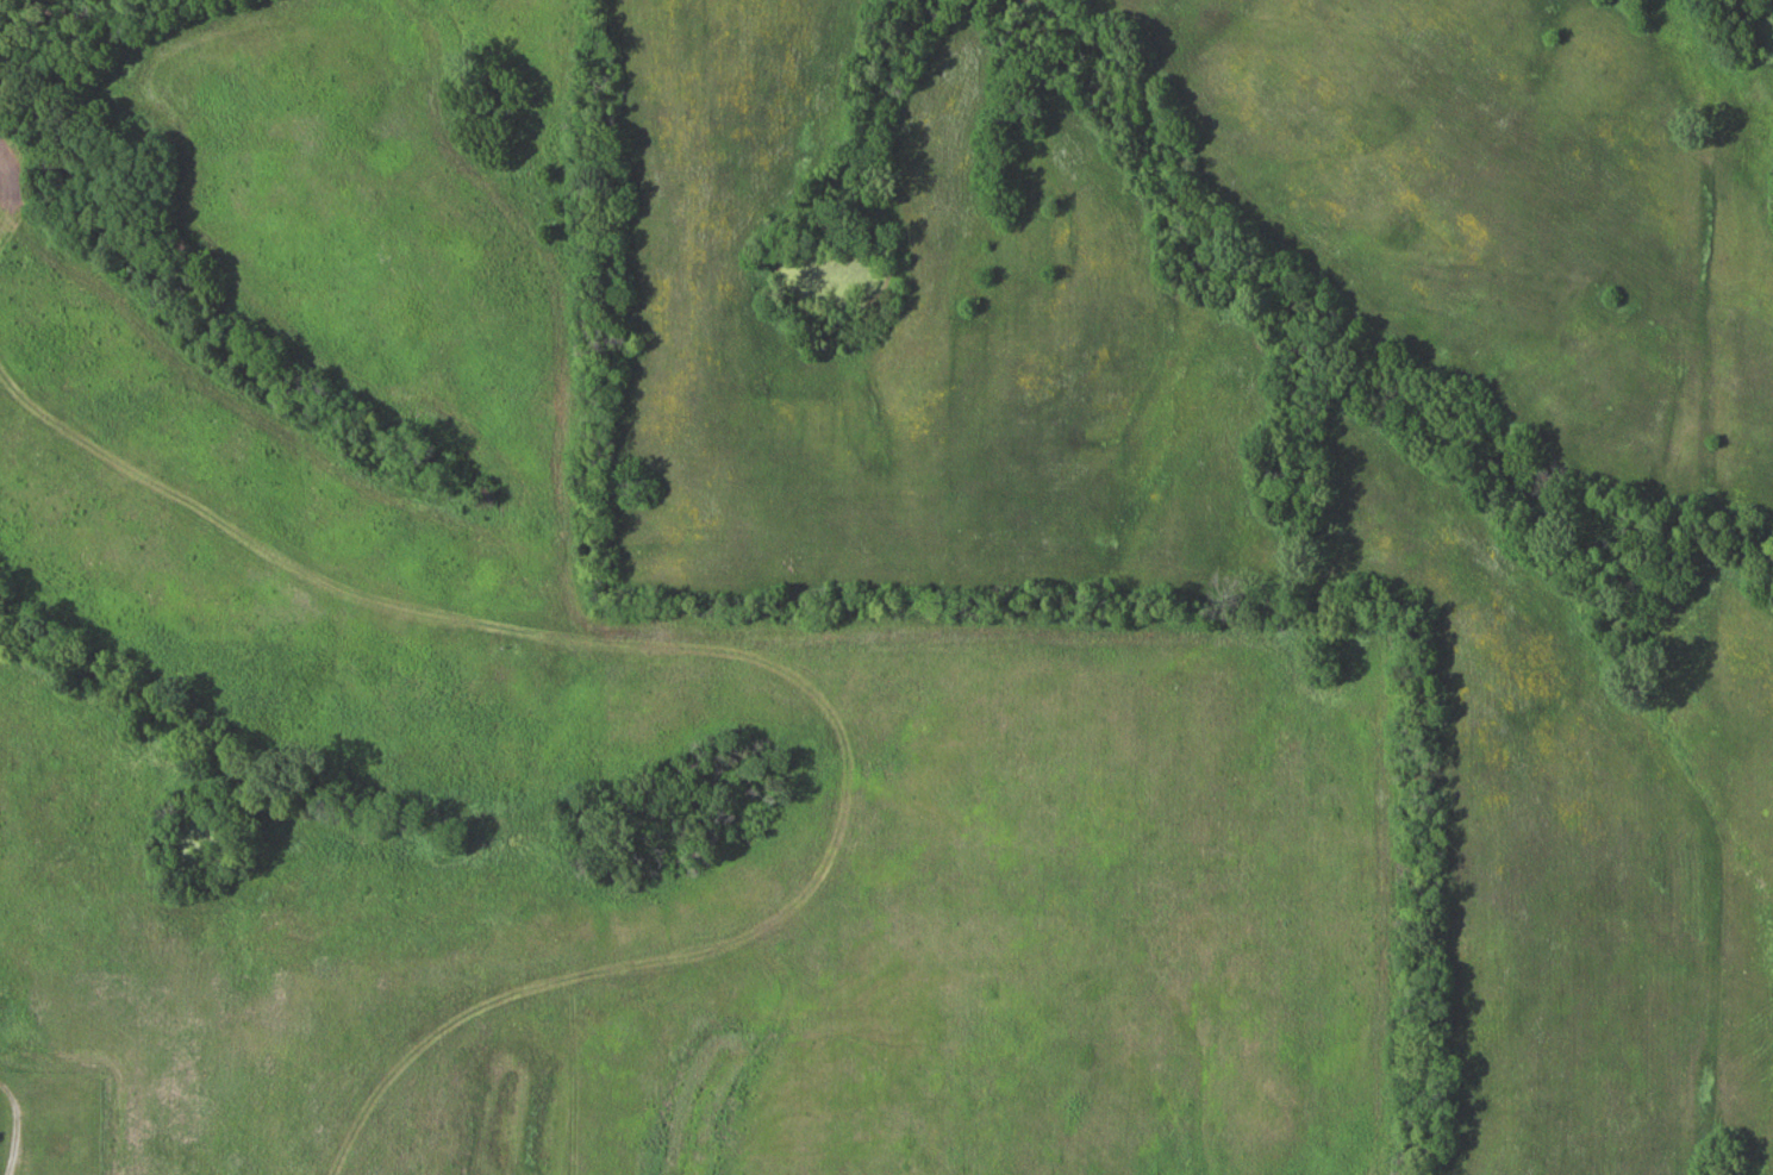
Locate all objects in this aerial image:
park: (51, 1121)
road: (19, 1125)

